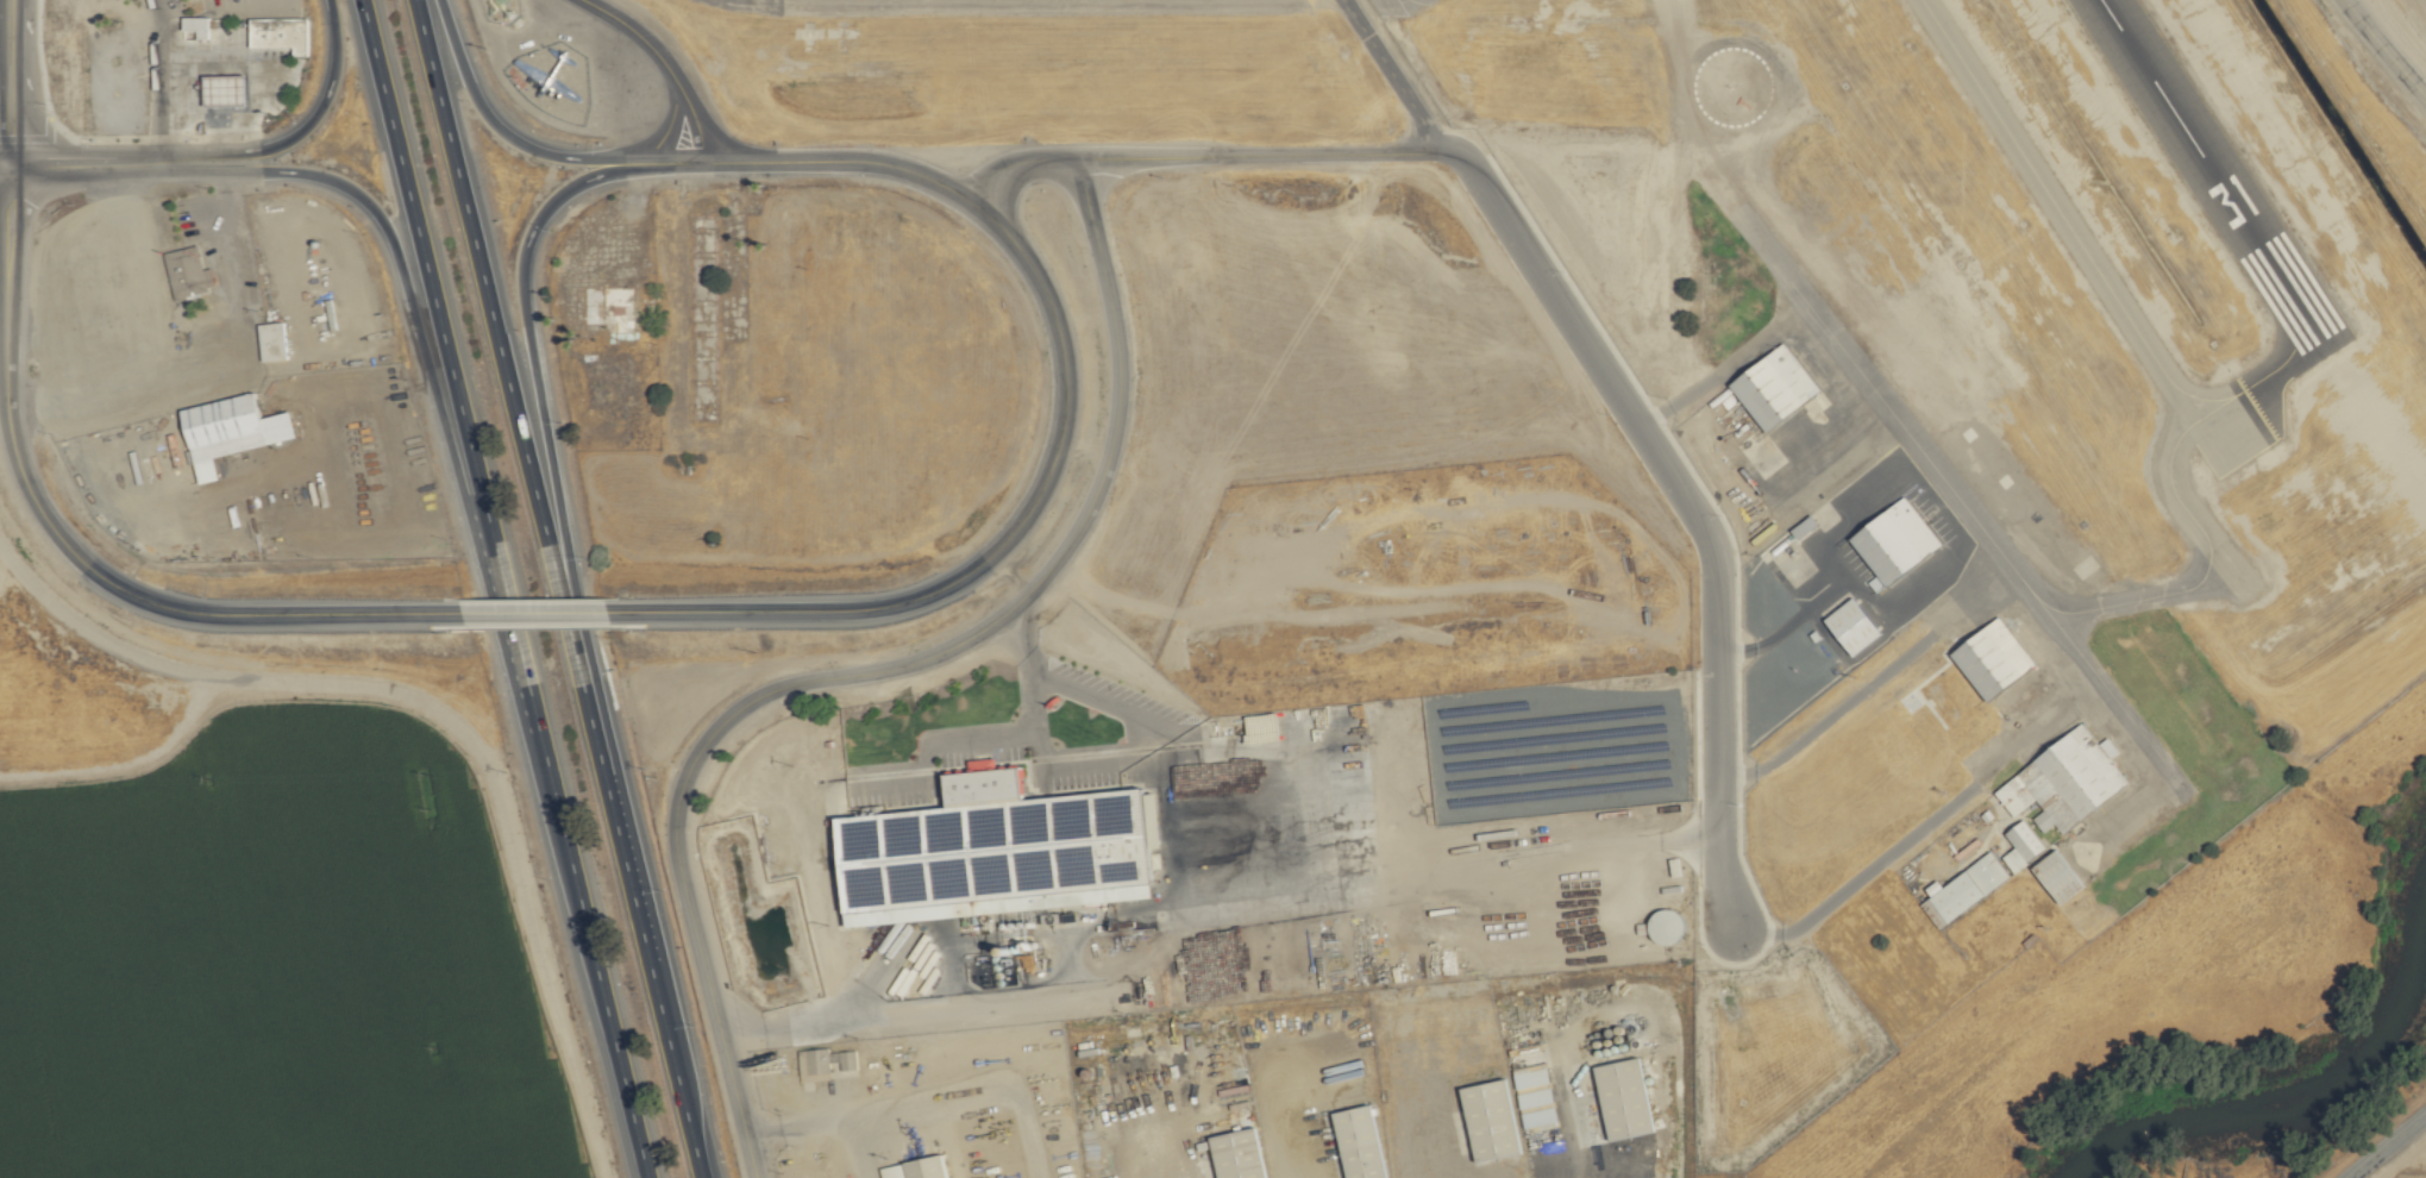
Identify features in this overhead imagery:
airport apron: (1399, 6)
road: (213, 7)
airport apron: (745, 7)
airport taxiway: (1463, 7)
airport taxiway: (1637, 7)
building: (202, 25)
park: (2405, 25)
building: (284, 33)
road: (2381, 51)
road: (662, 64)
road: (1386, 70)
road: (149, 80)
road: (6, 81)
road: (313, 121)
road: (490, 124)
road: (35, 139)
road: (660, 139)
road: (1253, 151)
road: (100, 162)
road: (802, 162)
road: (2, 163)
road: (1017, 168)
airport runway: (2211, 171)
road: (236, 258)
road: (424, 265)
airport taxiway: (2093, 268)
building: (190, 271)
road: (402, 280)
building: (276, 340)
road: (500, 353)
road: (5, 366)
road: (1726, 380)
building: (1770, 387)
road: (127, 390)
road: (543, 413)
airport: (1998, 418)
airport taxiway: (2186, 430)
building: (233, 431)
road: (1676, 500)
airport taxiway: (2183, 510)
building: (1891, 541)
road: (989, 557)
road: (1922, 574)
road: (534, 616)
road: (258, 619)
building: (1849, 626)
building: (1988, 658)
road: (871, 673)
building: (2062, 781)
building: (976, 785)
road: (616, 835)
building: (2019, 845)
road: (1887, 848)
road: (568, 854)
building: (2054, 876)
building: (1961, 889)
building: (1662, 927)
road: (968, 942)
building: (822, 1065)
road: (673, 1071)
building: (1530, 1090)
road: (979, 1092)
building: (1619, 1098)
road: (1562, 1103)
road: (1291, 1117)
building: (1486, 1120)
road: (797, 1129)
building: (1355, 1142)
road: (2386, 1146)
road: (857, 1148)
road: (1130, 1148)
building: (1234, 1154)
building: (914, 1168)

